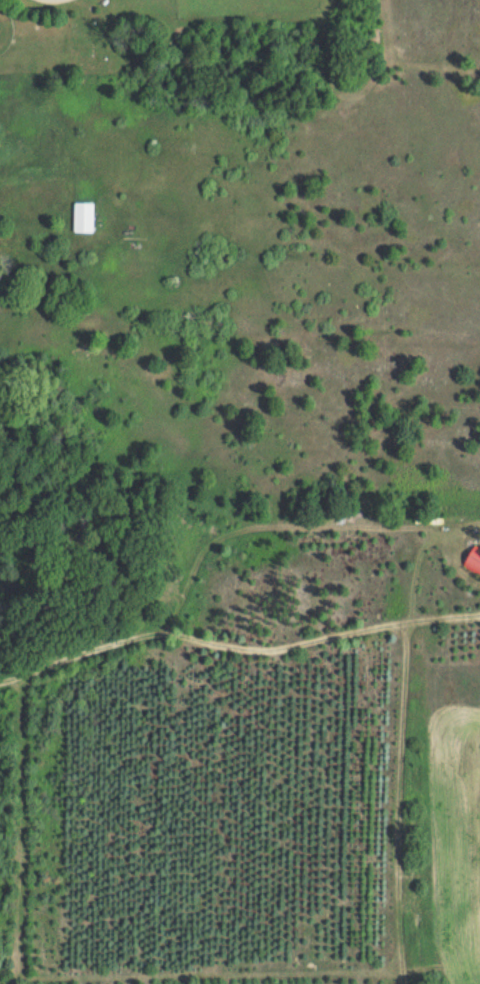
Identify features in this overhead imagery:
building: (83, 216)
building: (473, 560)

